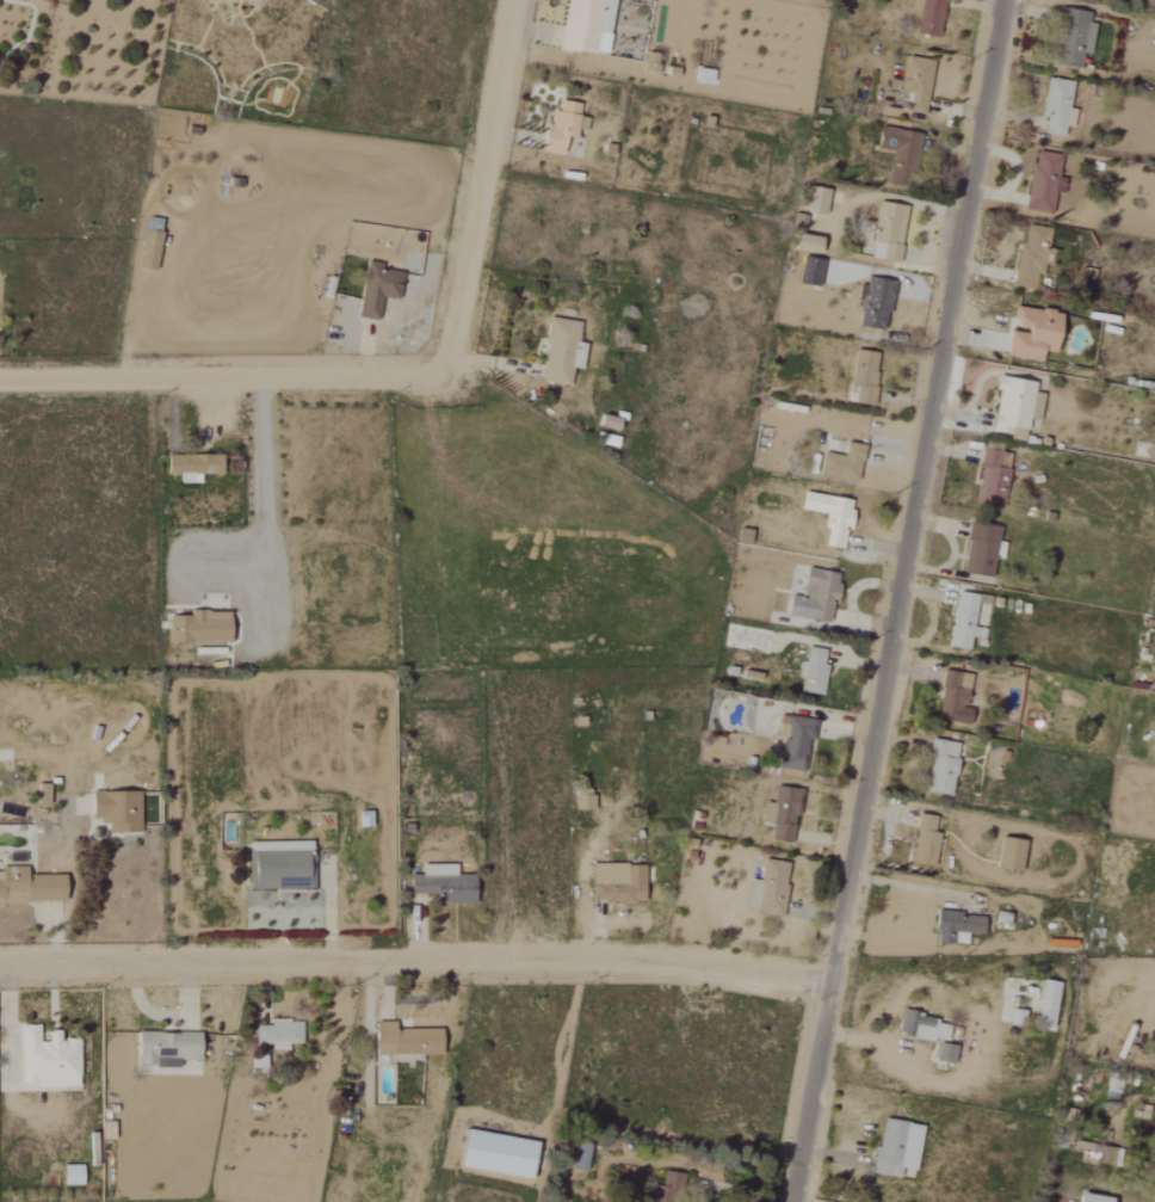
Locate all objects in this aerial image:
building: (258, 4)
building: (927, 18)
building: (583, 26)
building: (1070, 37)
building: (914, 82)
building: (1054, 106)
building: (558, 125)
building: (896, 150)
building: (1040, 181)
road: (498, 193)
building: (817, 201)
building: (885, 232)
building: (801, 244)
building: (150, 249)
building: (1029, 255)
building: (808, 271)
building: (375, 290)
building: (872, 303)
building: (1029, 333)
building: (558, 352)
building: (860, 375)
road: (223, 381)
building: (1012, 407)
building: (839, 463)
building: (190, 466)
building: (989, 477)
building: (827, 517)
road: (264, 518)
building: (978, 549)
road: (955, 551)
building: (811, 597)
road: (900, 600)
road: (846, 602)
building: (959, 621)
building: (196, 627)
building: (810, 672)
building: (949, 696)
building: (792, 739)
building: (938, 768)
building: (43, 793)
building: (580, 802)
building: (119, 810)
building: (782, 814)
building: (362, 819)
building: (922, 842)
building: (1006, 853)
building: (278, 865)
building: (439, 883)
building: (614, 883)
building: (31, 887)
building: (766, 889)
building: (953, 926)
road: (418, 956)
building: (1043, 1005)
building: (921, 1027)
building: (276, 1035)
building: (401, 1041)
building: (169, 1048)
building: (941, 1053)
building: (49, 1059)
building: (1154, 1061)
building: (892, 1148)
building: (493, 1154)
building: (576, 1159)
building: (74, 1176)
building: (667, 1185)
building: (1085, 1198)

